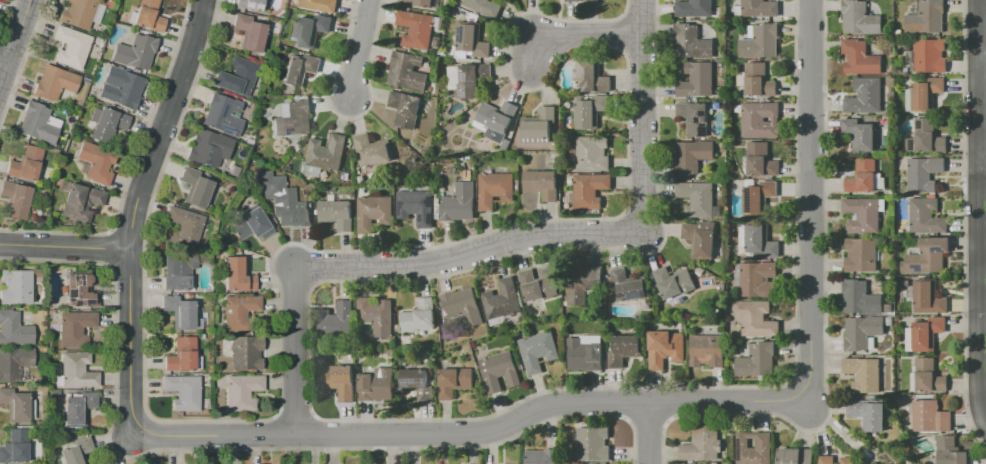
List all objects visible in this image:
building: (572, 0)
building: (591, 1)
building: (418, 2)
building: (250, 4)
building: (320, 4)
building: (484, 6)
building: (694, 8)
building: (760, 8)
building: (78, 13)
road: (639, 13)
road: (7, 16)
building: (148, 16)
building: (926, 17)
building: (860, 18)
road: (978, 26)
building: (416, 28)
building: (309, 30)
road: (621, 31)
road: (975, 31)
building: (249, 32)
road: (571, 34)
road: (13, 38)
building: (473, 40)
building: (692, 41)
building: (760, 41)
road: (13, 43)
building: (71, 47)
road: (358, 47)
road: (638, 50)
building: (135, 52)
road: (982, 53)
building: (930, 55)
building: (860, 57)
road: (22, 61)
road: (2, 62)
building: (300, 69)
building: (407, 71)
road: (975, 74)
building: (592, 76)
building: (236, 77)
building: (468, 78)
building: (697, 79)
building: (758, 80)
building: (54, 82)
road: (6, 84)
building: (120, 87)
building: (925, 94)
building: (865, 95)
building: (405, 108)
building: (591, 111)
building: (223, 115)
road: (643, 116)
road: (347, 117)
building: (497, 117)
building: (694, 117)
building: (293, 118)
building: (760, 119)
building: (39, 123)
building: (106, 123)
building: (538, 125)
building: (860, 134)
building: (926, 137)
building: (506, 144)
building: (208, 146)
building: (374, 150)
building: (593, 153)
building: (324, 155)
building: (692, 156)
building: (761, 159)
building: (96, 162)
building: (26, 164)
road: (130, 167)
building: (923, 173)
building: (863, 176)
building: (542, 183)
building: (62, 185)
building: (195, 186)
building: (496, 189)
building: (589, 189)
building: (758, 196)
building: (16, 199)
building: (697, 199)
road: (810, 199)
building: (80, 202)
building: (459, 202)
building: (417, 206)
building: (289, 207)
road: (132, 208)
building: (374, 212)
building: (337, 213)
building: (863, 214)
building: (925, 215)
building: (251, 224)
building: (184, 226)
road: (964, 230)
road: (127, 231)
road: (977, 237)
building: (700, 238)
building: (758, 240)
road: (63, 246)
road: (108, 248)
road: (332, 250)
road: (469, 253)
building: (861, 254)
building: (927, 255)
road: (125, 268)
building: (177, 271)
building: (237, 275)
building: (759, 278)
building: (674, 281)
building: (582, 283)
building: (628, 284)
building: (538, 285)
building: (15, 287)
building: (80, 290)
building: (860, 297)
building: (928, 297)
building: (502, 299)
building: (463, 306)
building: (180, 312)
building: (239, 312)
building: (376, 315)
building: (420, 315)
road: (824, 317)
building: (756, 318)
building: (337, 320)
building: (75, 328)
building: (14, 329)
building: (862, 331)
building: (927, 332)
building: (908, 338)
building: (665, 348)
building: (625, 349)
building: (538, 350)
building: (707, 350)
road: (294, 351)
building: (245, 352)
building: (586, 352)
building: (181, 355)
building: (757, 360)
building: (14, 362)
building: (77, 370)
building: (500, 371)
building: (864, 373)
building: (928, 375)
building: (338, 381)
building: (455, 381)
building: (377, 384)
building: (418, 384)
building: (183, 392)
building: (242, 392)
road: (623, 401)
road: (667, 401)
building: (15, 405)
building: (78, 408)
road: (294, 413)
building: (869, 413)
building: (931, 416)
road: (644, 418)
road: (377, 419)
road: (276, 430)
road: (312, 430)
road: (647, 431)
road: (470, 432)
building: (593, 443)
building: (702, 443)
building: (14, 447)
building: (754, 448)
road: (245, 449)
building: (77, 451)
building: (950, 451)
building: (543, 456)
building: (796, 456)
building: (826, 459)
building: (847, 460)
building: (467, 463)
building: (690, 463)
building: (875, 463)

